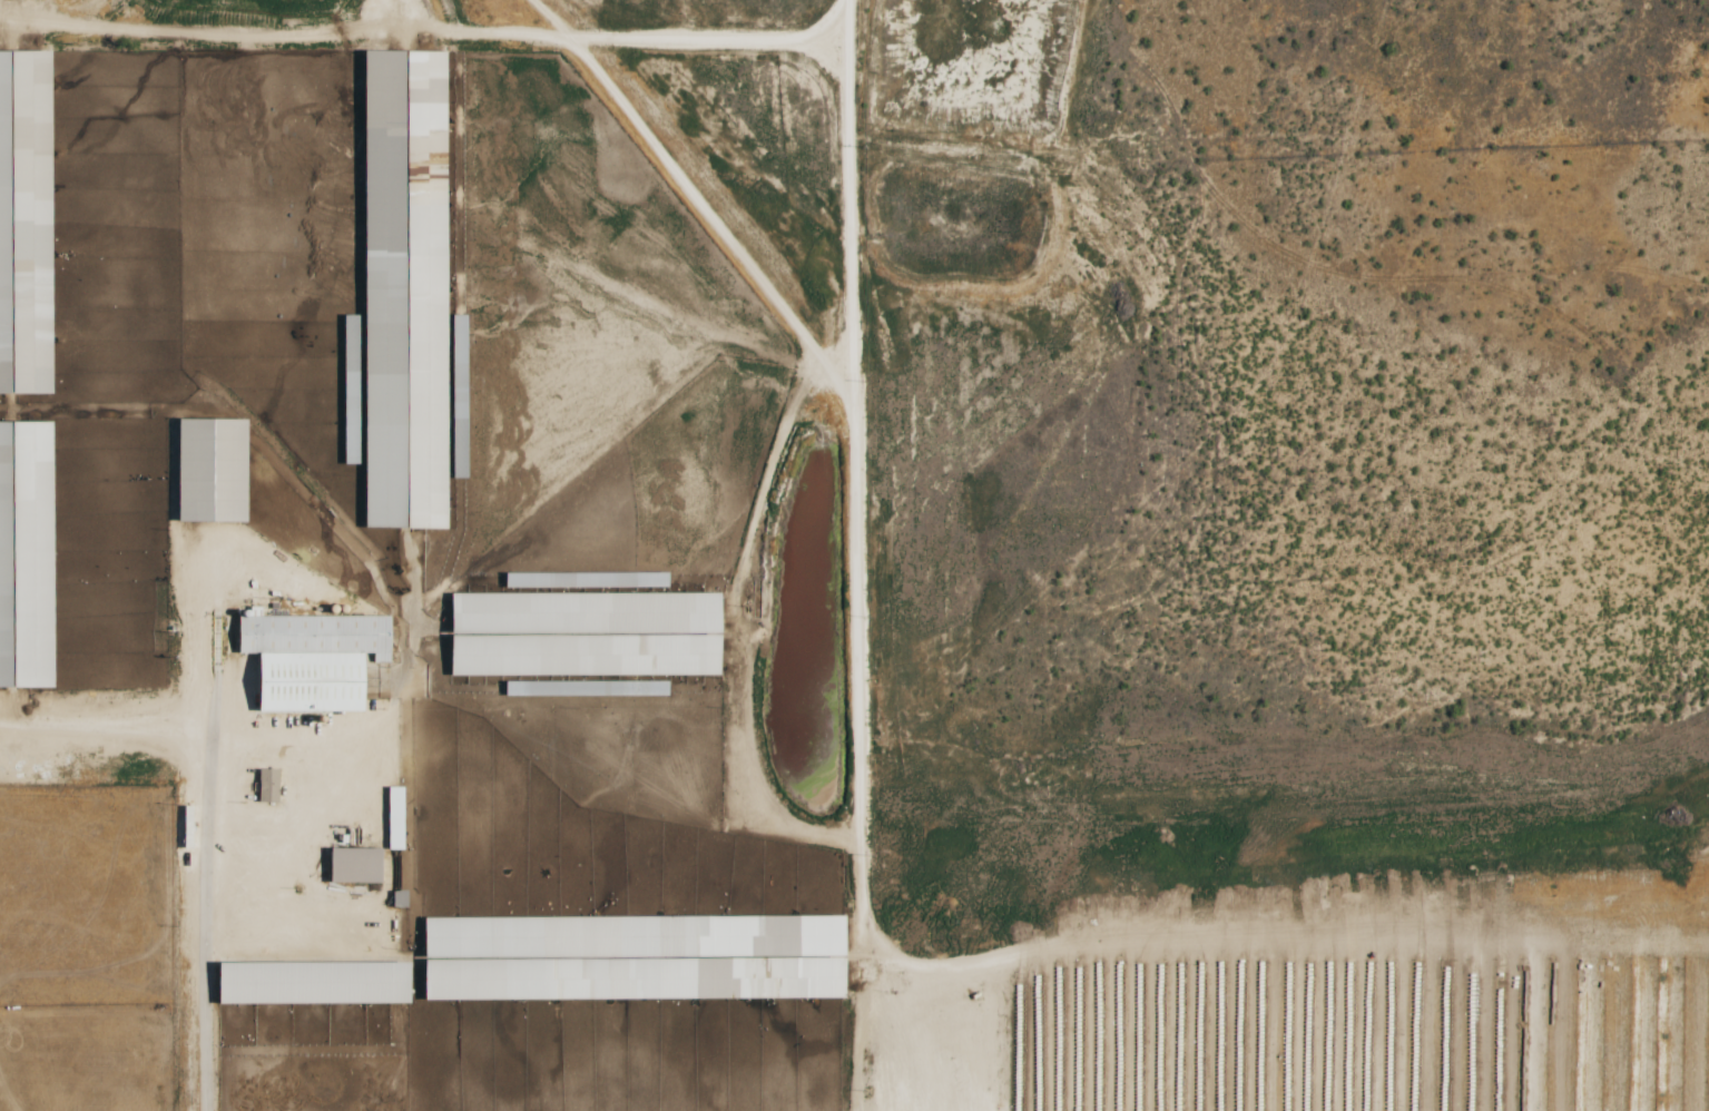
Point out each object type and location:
building: (24, 225)
building: (404, 291)
building: (351, 390)
building: (459, 396)
building: (26, 554)
road: (855, 555)
building: (585, 627)
building: (312, 659)
building: (586, 688)
building: (268, 786)
building: (395, 818)
building: (355, 865)
building: (400, 899)
building: (633, 958)

